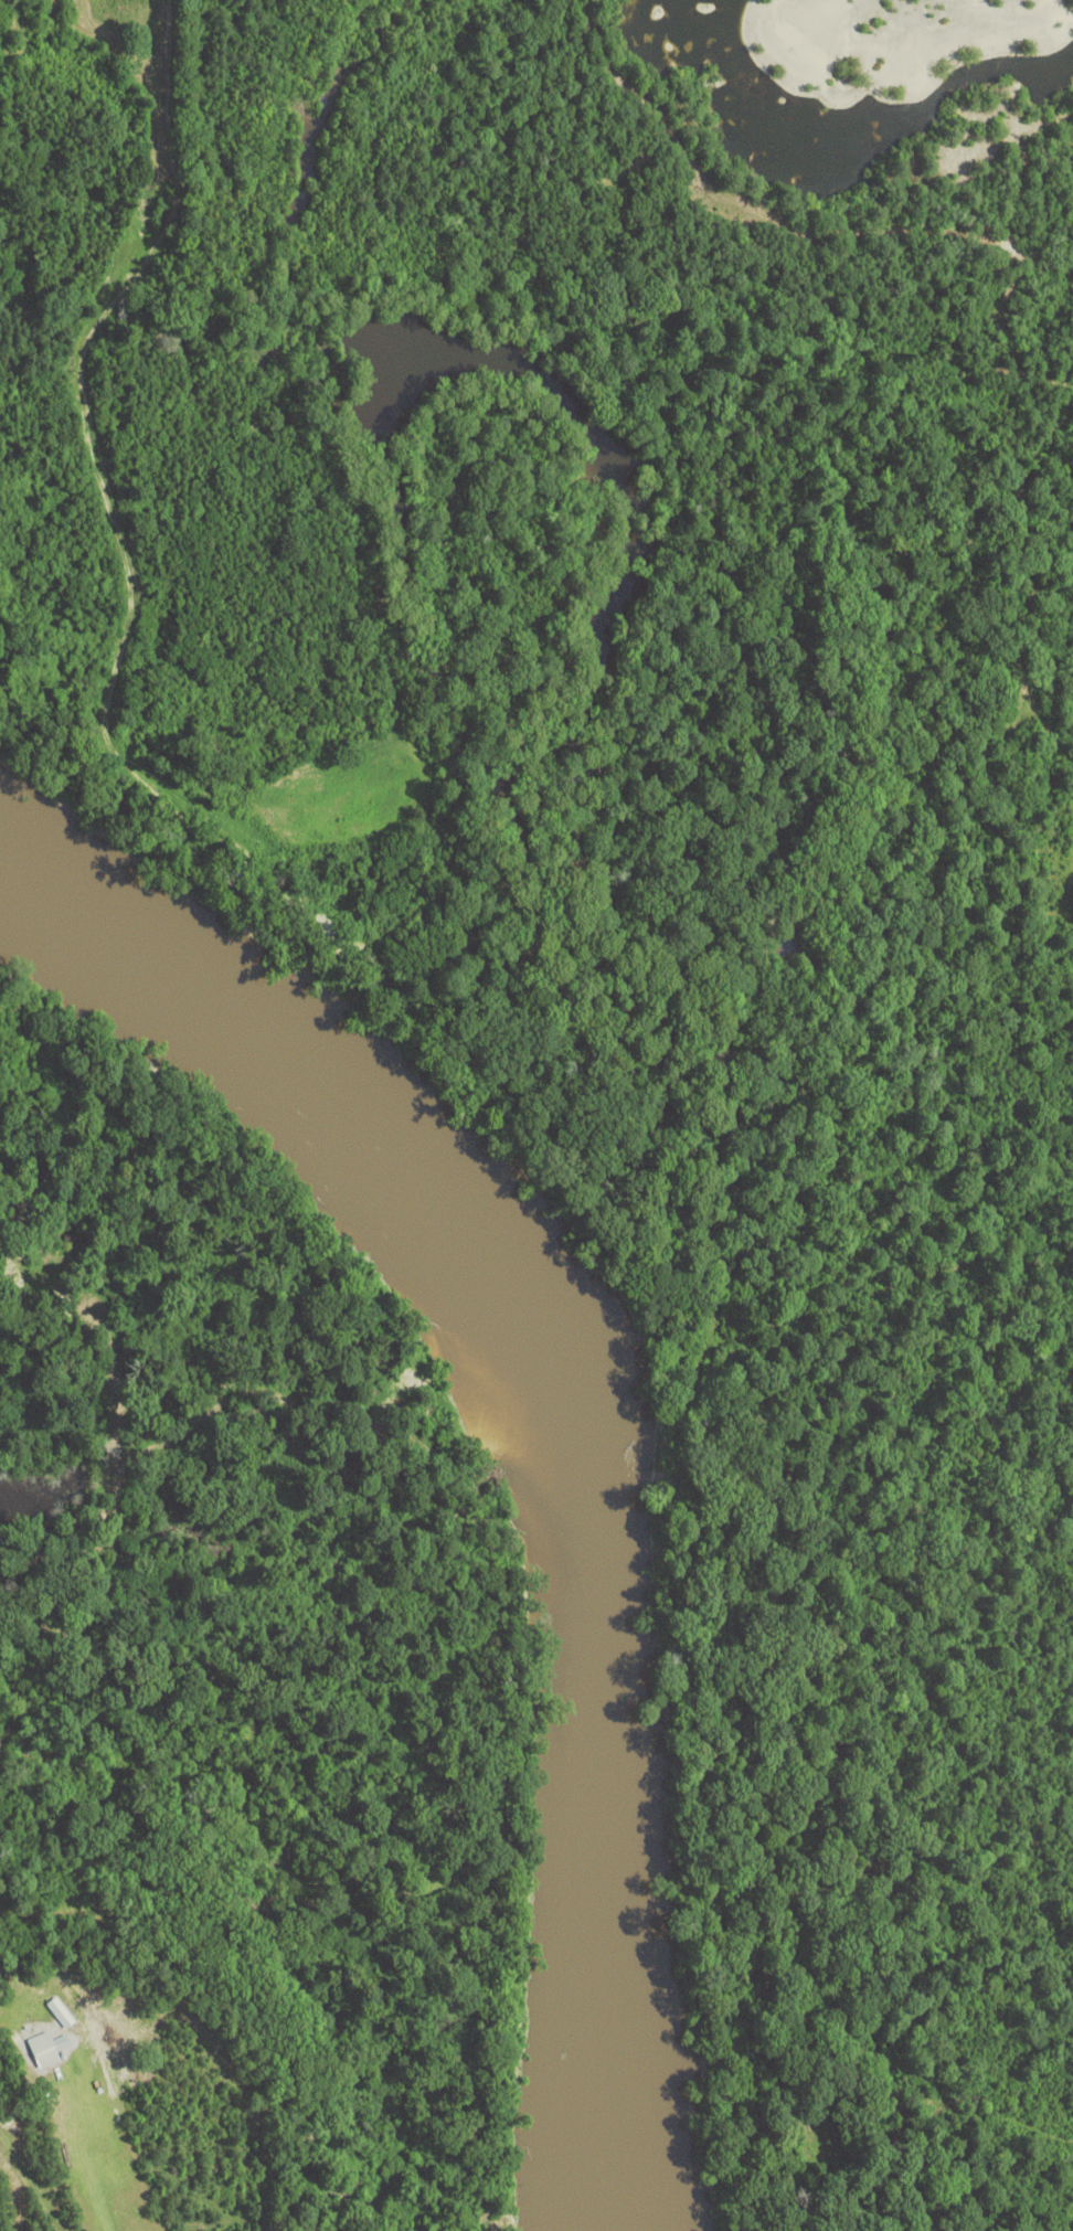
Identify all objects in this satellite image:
river: (555, 1424)
building: (64, 2014)
building: (53, 2049)

